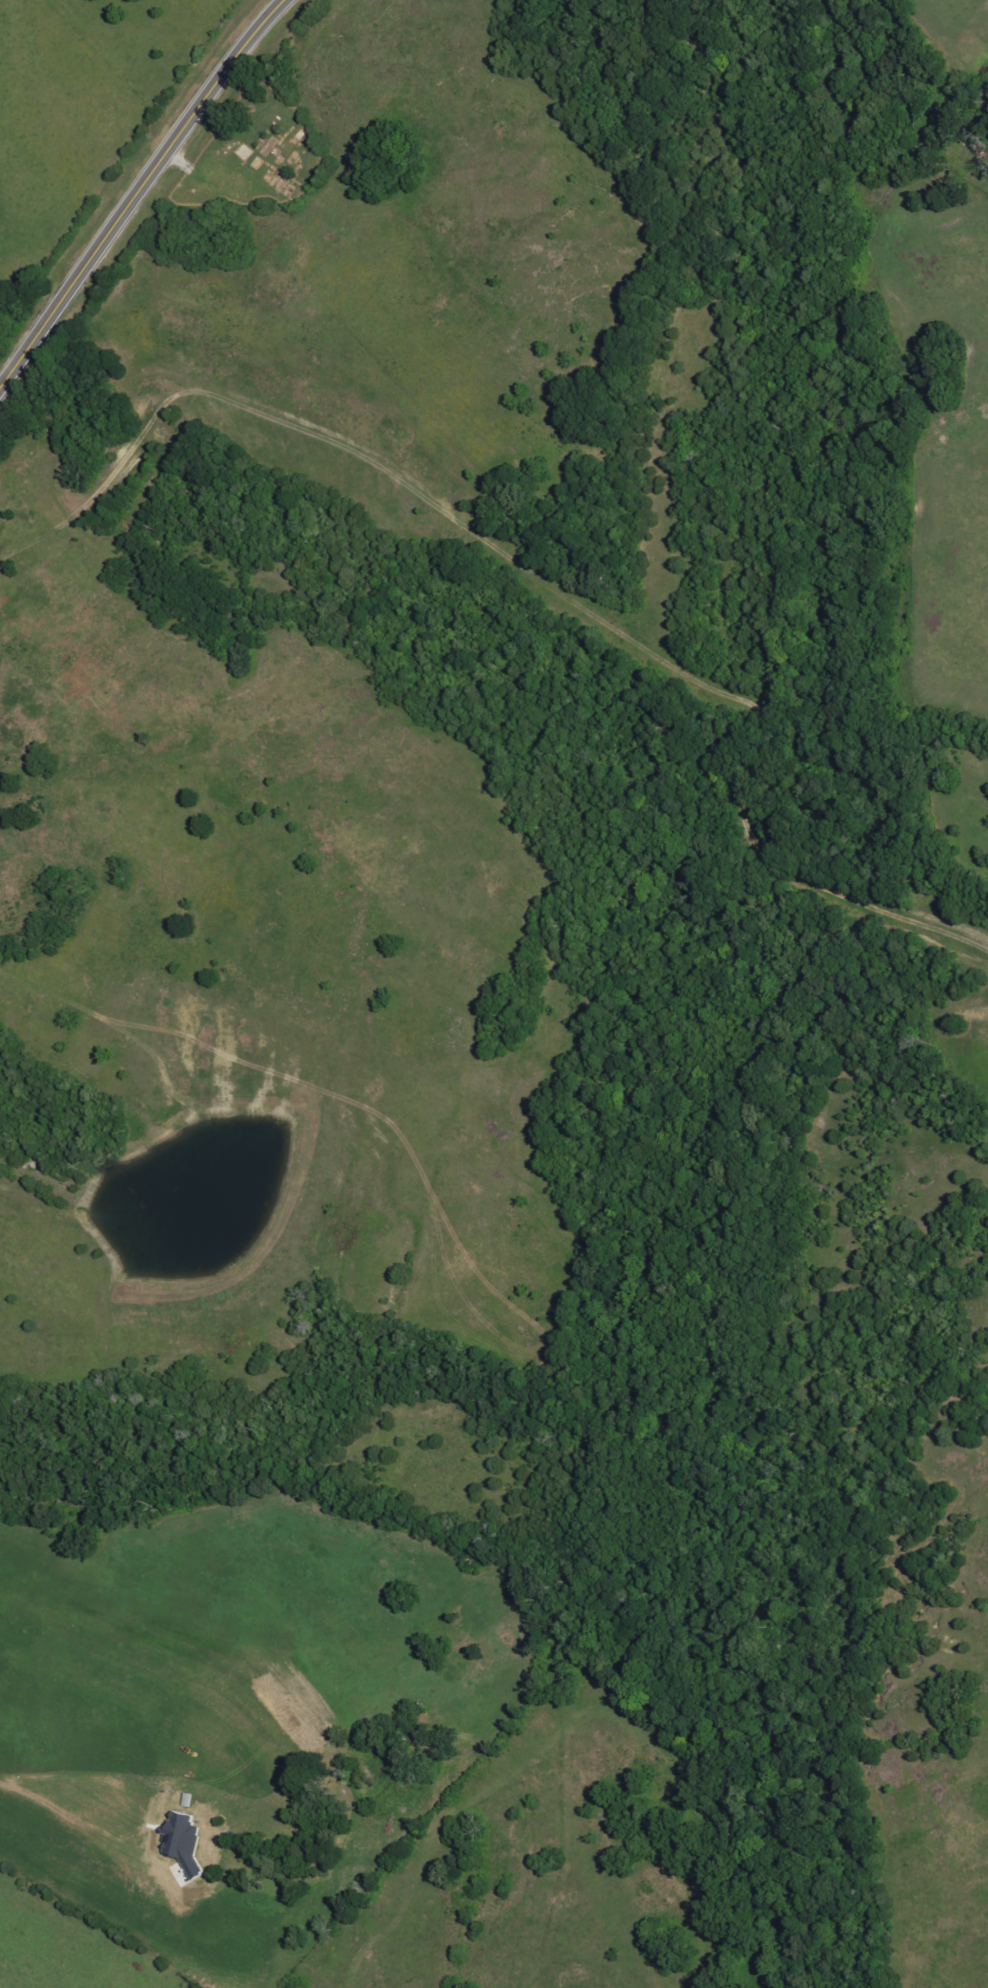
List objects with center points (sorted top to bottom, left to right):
park: (257, 157)
road: (139, 193)
road: (64, 1809)
building: (185, 1842)

